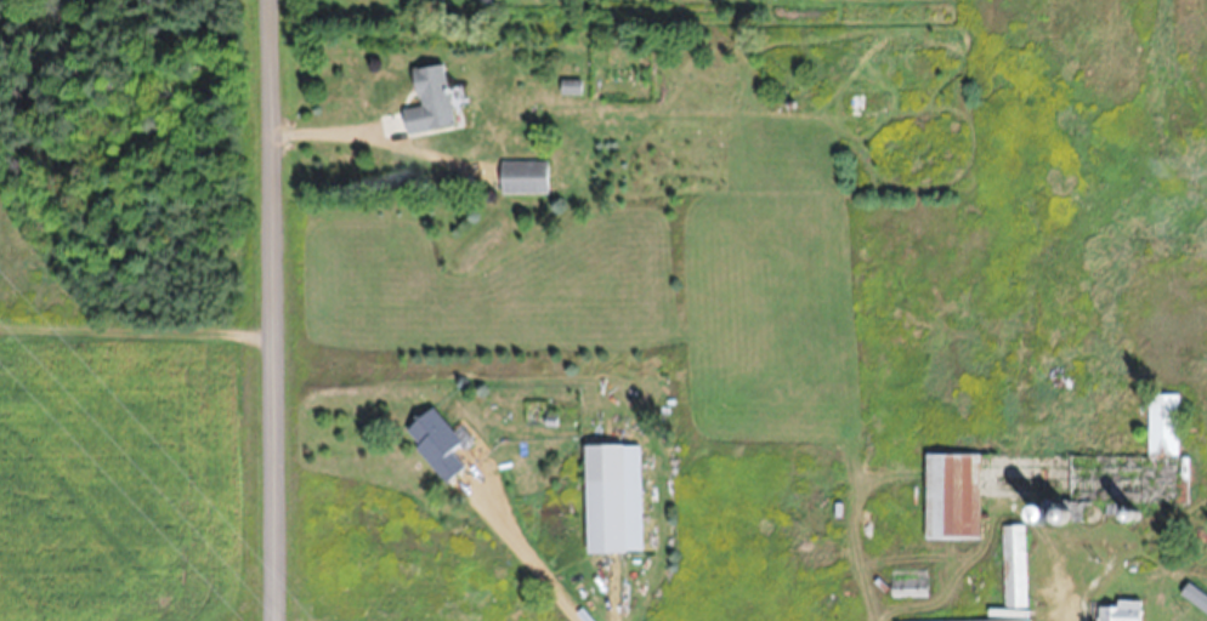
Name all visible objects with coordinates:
building: (568, 87)
building: (429, 101)
building: (523, 176)
road: (271, 310)
building: (1163, 422)
building: (435, 441)
building: (951, 494)
building: (605, 513)
building: (1011, 574)
building: (906, 576)
building: (1195, 594)
building: (1120, 610)

